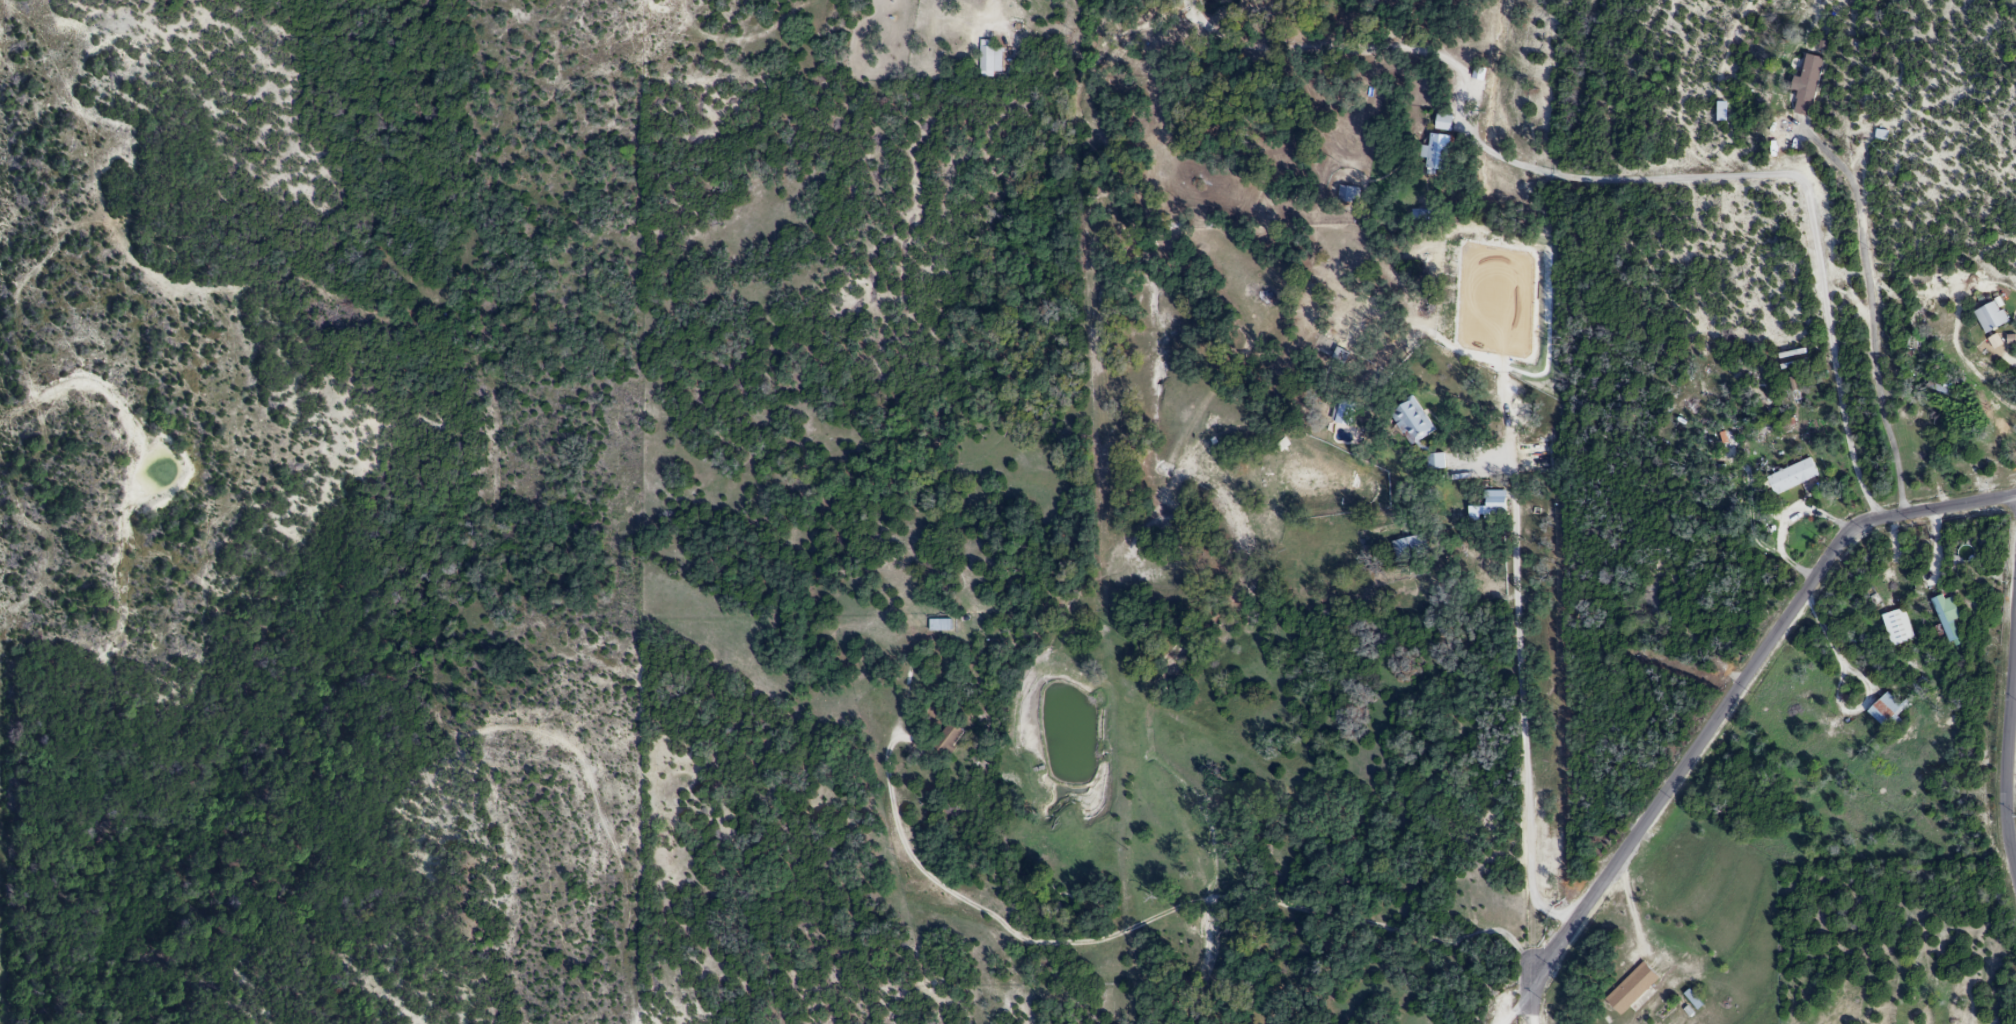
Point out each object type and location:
building: (989, 60)
building: (1806, 87)
building: (1443, 124)
building: (1434, 156)
building: (1348, 196)
road: (1807, 202)
road: (1872, 302)
building: (1342, 413)
building: (1412, 422)
building: (1792, 479)
building: (1493, 506)
road: (1527, 542)
building: (1409, 549)
building: (1946, 619)
building: (938, 627)
building: (1896, 628)
road: (1735, 683)
building: (1886, 713)
building: (946, 739)
road: (2004, 750)
road: (1628, 907)
building: (1630, 990)
road: (1512, 1000)
road: (1532, 1004)

